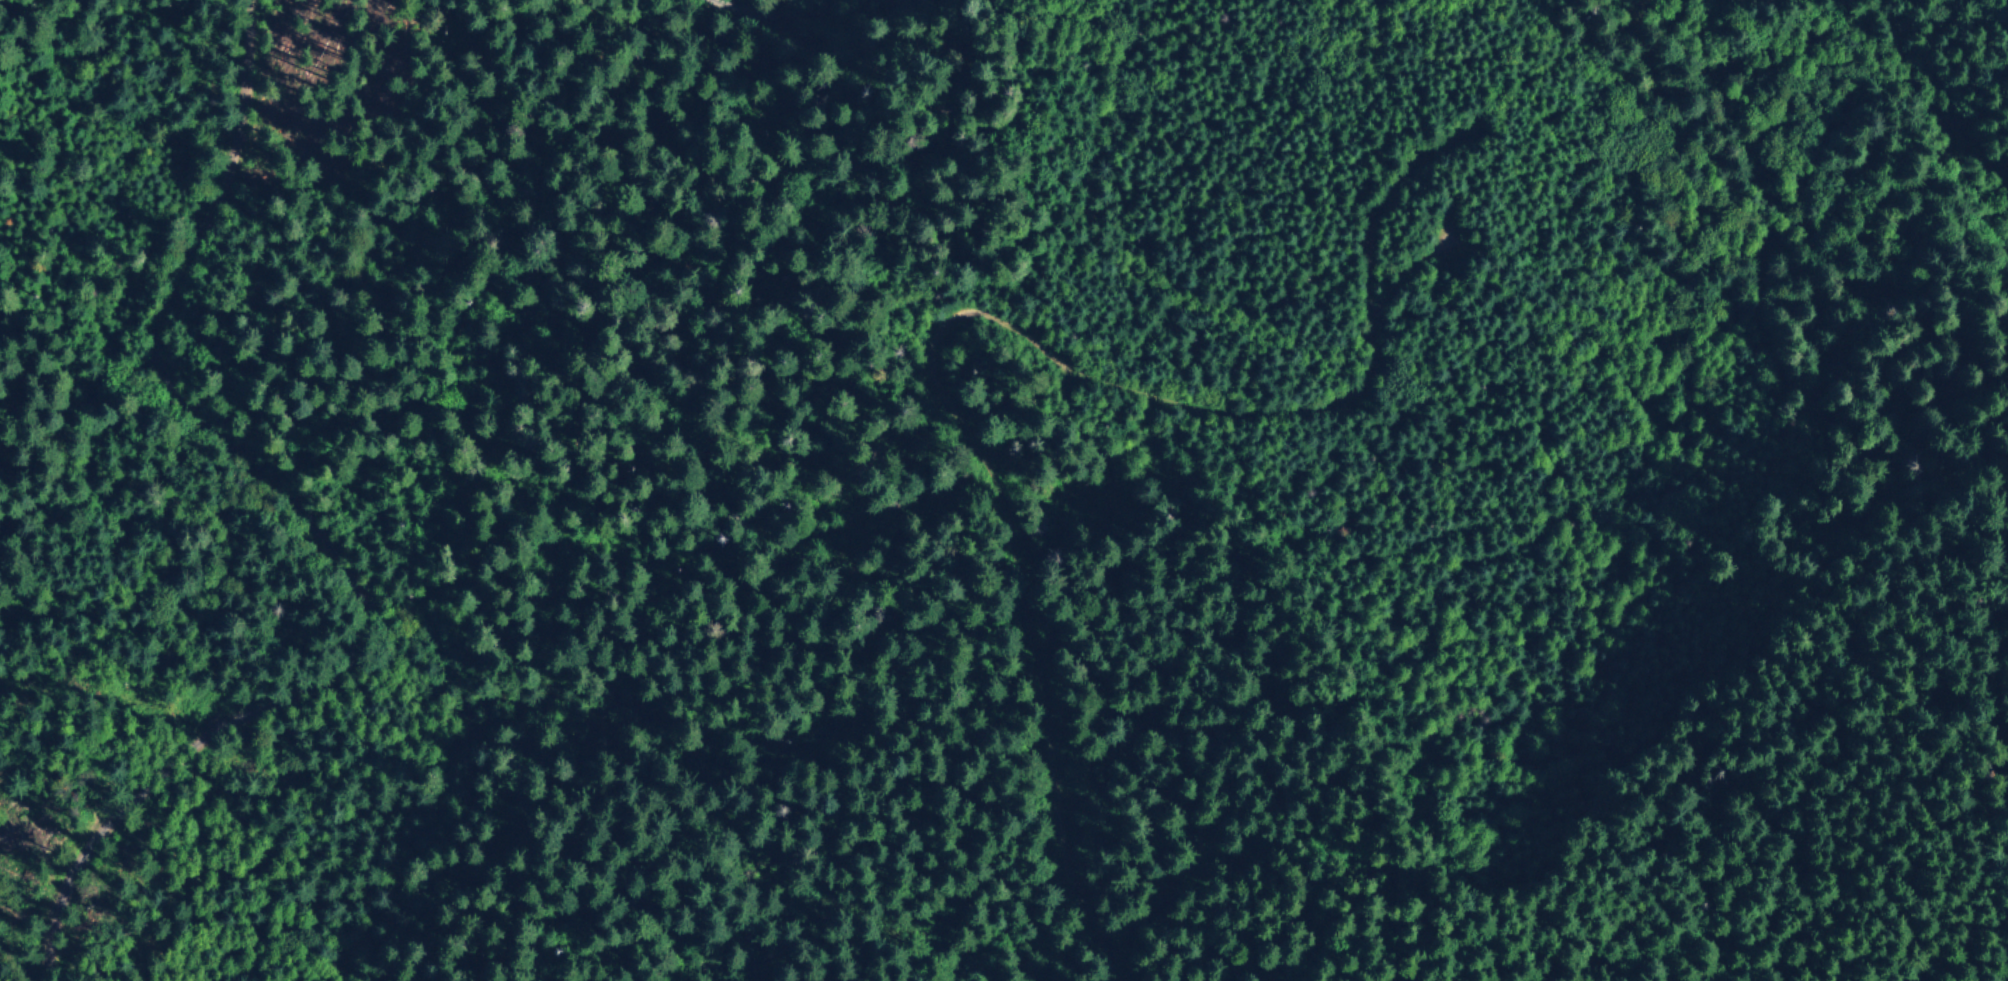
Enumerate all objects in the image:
road: (1792, 49)
road: (318, 521)

